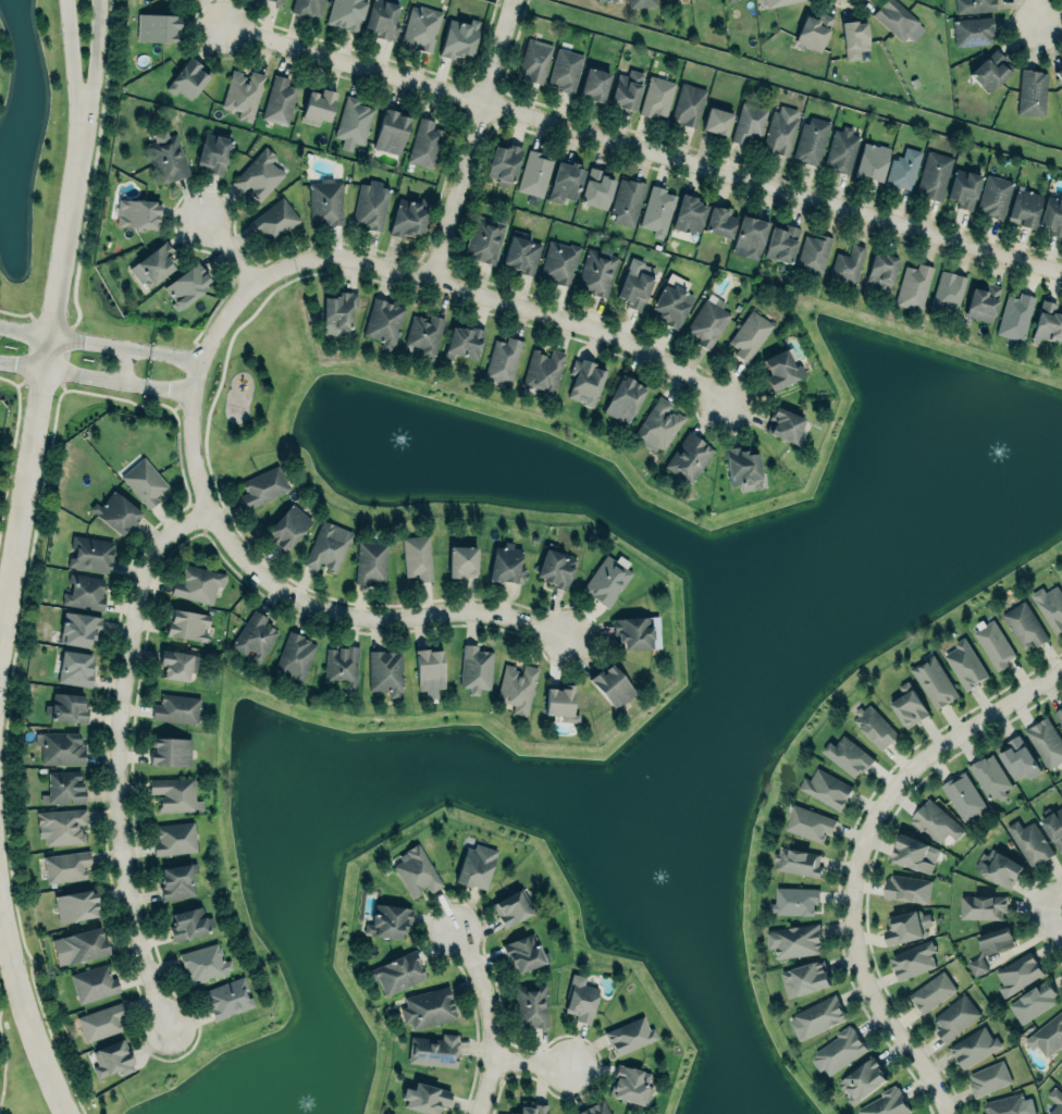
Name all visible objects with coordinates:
building: (279, 0)
building: (601, 0)
building: (728, 0)
building: (641, 2)
building: (776, 2)
building: (307, 5)
building: (974, 5)
building: (346, 12)
road: (1037, 12)
building: (382, 17)
building: (898, 21)
building: (421, 25)
building: (157, 26)
building: (814, 28)
building: (973, 29)
building: (854, 37)
building: (458, 38)
building: (534, 59)
building: (566, 67)
building: (990, 71)
building: (1059, 72)
road: (72, 75)
road: (90, 75)
building: (188, 77)
building: (593, 84)
building: (626, 89)
building: (243, 91)
building: (1032, 91)
building: (656, 96)
building: (279, 99)
building: (318, 104)
building: (687, 106)
building: (353, 119)
building: (716, 121)
building: (748, 122)
building: (391, 128)
building: (780, 129)
road: (470, 139)
building: (812, 139)
building: (424, 143)
road: (644, 149)
building: (841, 149)
building: (212, 151)
building: (165, 156)
building: (870, 160)
building: (503, 163)
building: (903, 169)
building: (259, 173)
building: (534, 173)
building: (933, 174)
building: (565, 180)
building: (596, 188)
building: (963, 188)
building: (993, 195)
building: (627, 200)
building: (325, 201)
building: (371, 203)
building: (1023, 207)
building: (657, 209)
building: (137, 210)
building: (689, 212)
building: (1052, 213)
building: (275, 218)
building: (407, 218)
building: (719, 219)
building: (484, 237)
building: (749, 237)
building: (781, 240)
road: (229, 251)
building: (813, 252)
building: (521, 253)
building: (558, 261)
building: (152, 262)
building: (848, 263)
building: (880, 269)
building: (596, 270)
road: (434, 281)
building: (186, 283)
building: (635, 284)
building: (914, 285)
building: (951, 290)
building: (981, 299)
building: (671, 302)
building: (337, 312)
building: (1014, 313)
building: (707, 321)
building: (383, 322)
building: (1047, 322)
road: (24, 330)
building: (424, 332)
building: (750, 333)
building: (464, 339)
road: (99, 343)
road: (175, 354)
building: (502, 358)
road: (22, 366)
building: (781, 368)
building: (542, 370)
road: (94, 377)
building: (585, 382)
road: (168, 388)
road: (38, 397)
building: (623, 397)
building: (783, 421)
building: (657, 424)
fountain: (417, 435)
building: (688, 457)
building: (742, 468)
fountain: (980, 472)
building: (144, 480)
building: (262, 486)
building: (115, 511)
building: (287, 524)
building: (326, 546)
building: (89, 554)
building: (417, 556)
building: (461, 559)
building: (370, 561)
building: (506, 561)
building: (555, 566)
building: (605, 579)
building: (197, 583)
building: (85, 591)
road: (312, 605)
building: (1050, 605)
building: (186, 623)
building: (1023, 626)
building: (77, 628)
building: (632, 630)
building: (254, 633)
building: (993, 644)
building: (294, 656)
building: (964, 663)
building: (177, 664)
building: (341, 665)
building: (75, 667)
building: (429, 667)
building: (476, 667)
building: (385, 670)
building: (935, 681)
building: (610, 684)
building: (516, 688)
building: (559, 702)
building: (907, 704)
building: (67, 706)
building: (176, 707)
building: (1058, 714)
building: (874, 726)
building: (1046, 742)
building: (60, 746)
building: (170, 751)
building: (847, 755)
road: (119, 757)
building: (1018, 757)
building: (990, 775)
building: (63, 787)
building: (825, 789)
building: (1060, 790)
building: (174, 793)
building: (962, 796)
building: (808, 821)
building: (935, 822)
building: (62, 825)
building: (1054, 828)
building: (174, 838)
building: (1029, 842)
building: (913, 851)
road: (859, 856)
building: (796, 861)
building: (66, 865)
building: (474, 866)
building: (999, 867)
building: (416, 869)
fountain: (657, 879)
building: (176, 881)
building: (907, 887)
road: (1052, 895)
building: (793, 899)
building: (75, 905)
building: (513, 905)
building: (981, 905)
building: (387, 918)
road: (1052, 918)
building: (188, 924)
building: (906, 927)
building: (794, 939)
building: (78, 945)
building: (990, 946)
building: (522, 952)
building: (913, 958)
building: (203, 963)
building: (397, 973)
building: (1016, 974)
building: (804, 979)
building: (92, 982)
building: (931, 992)
building: (229, 997)
building: (580, 998)
road: (23, 1001)
building: (1033, 1001)
building: (529, 1004)
building: (429, 1006)
building: (816, 1016)
building: (954, 1016)
road: (490, 1018)
building: (100, 1022)
building: (629, 1033)
building: (1047, 1035)
building: (974, 1047)
building: (434, 1049)
building: (837, 1051)
building: (112, 1056)
road: (531, 1065)
building: (863, 1078)
building: (988, 1078)
building: (1061, 1082)
building: (630, 1084)
building: (424, 1098)
building: (1054, 1101)
fountain: (304, 1102)
building: (887, 1103)
building: (1009, 1105)
building: (593, 1107)
building: (531, 1109)

